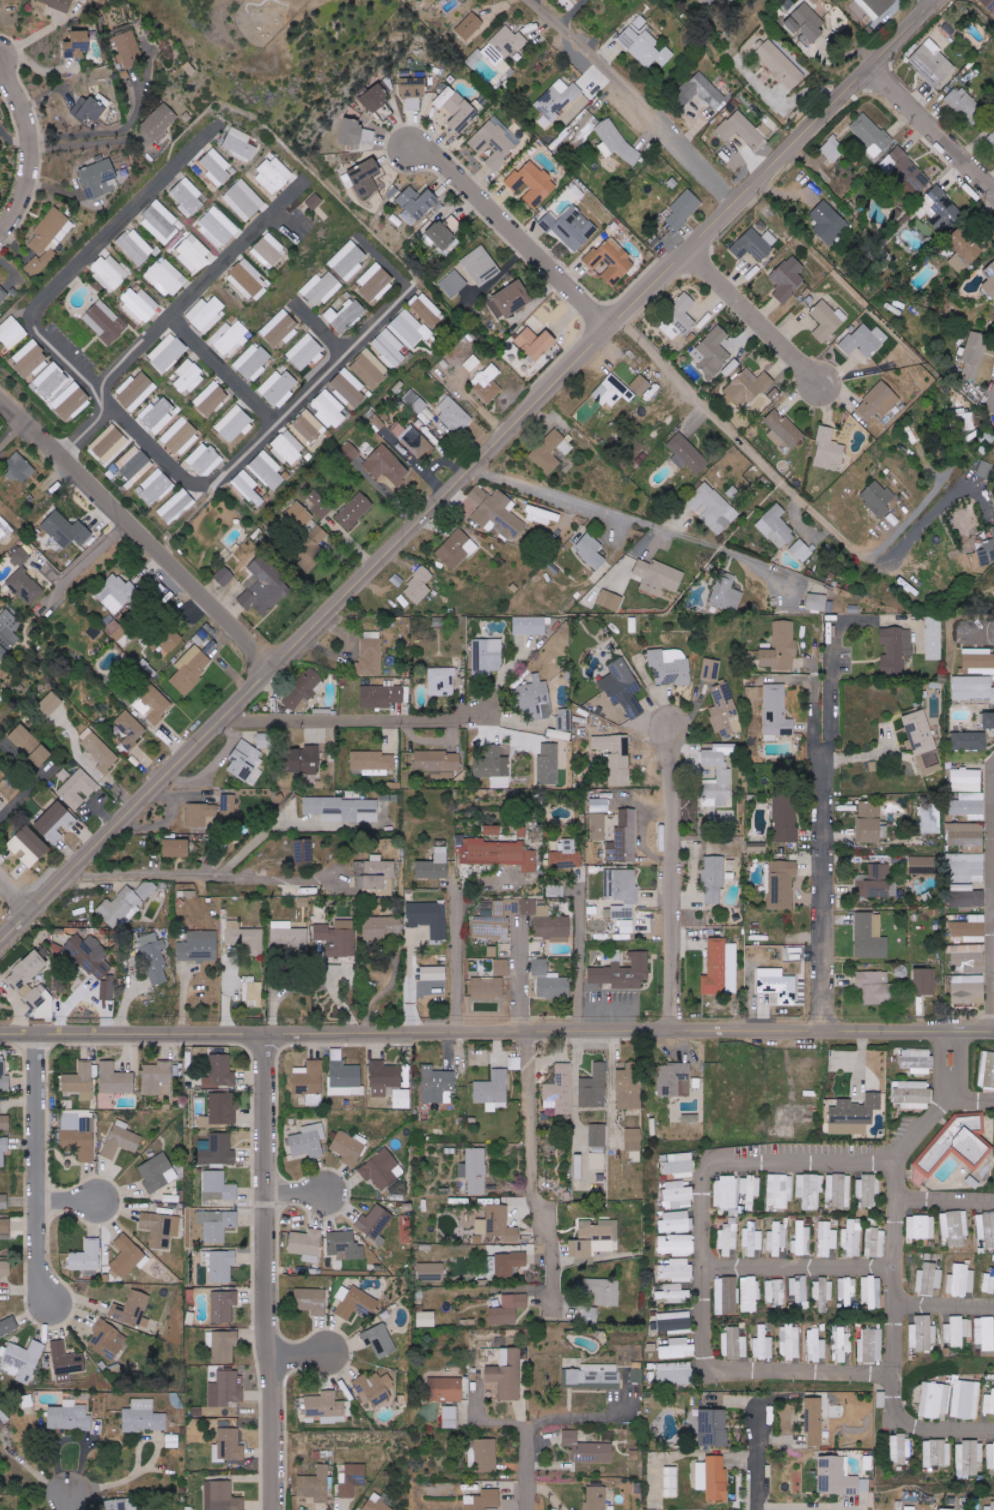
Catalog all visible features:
building: (462, 0)
building: (577, 0)
building: (709, 2)
building: (59, 4)
building: (989, 4)
building: (875, 7)
building: (807, 21)
building: (469, 25)
building: (530, 30)
building: (644, 43)
building: (78, 44)
building: (505, 45)
building: (128, 48)
building: (778, 62)
building: (932, 63)
building: (189, 68)
building: (703, 91)
building: (414, 92)
building: (375, 97)
building: (557, 100)
road: (632, 100)
building: (963, 103)
building: (89, 108)
building: (462, 111)
building: (160, 121)
road: (931, 127)
building: (738, 128)
building: (357, 132)
building: (872, 135)
road: (100, 136)
building: (615, 140)
building: (991, 140)
building: (495, 142)
building: (240, 144)
building: (833, 149)
road: (31, 152)
building: (215, 167)
building: (909, 171)
building: (273, 175)
building: (366, 178)
building: (100, 179)
building: (533, 184)
building: (187, 197)
building: (243, 200)
building: (315, 201)
building: (417, 204)
building: (684, 209)
building: (939, 210)
building: (160, 222)
building: (828, 223)
building: (217, 227)
building: (571, 227)
building: (444, 232)
road: (513, 233)
building: (48, 239)
building: (755, 245)
building: (135, 247)
building: (268, 250)
building: (193, 253)
building: (965, 253)
building: (348, 260)
building: (612, 261)
building: (481, 265)
building: (110, 272)
building: (165, 277)
building: (788, 279)
building: (248, 280)
building: (990, 280)
building: (375, 282)
building: (453, 283)
building: (766, 284)
road: (204, 287)
building: (320, 289)
building: (3, 295)
building: (511, 300)
building: (138, 304)
building: (427, 310)
building: (0, 314)
building: (205, 314)
building: (345, 315)
road: (753, 317)
building: (679, 320)
building: (828, 320)
building: (105, 322)
building: (280, 328)
building: (408, 329)
building: (12, 332)
road: (323, 332)
building: (230, 338)
building: (864, 340)
building: (535, 343)
building: (388, 348)
building: (168, 352)
building: (305, 352)
building: (713, 352)
building: (975, 353)
building: (31, 359)
building: (252, 362)
building: (471, 363)
building: (369, 369)
road: (223, 375)
building: (187, 377)
building: (52, 381)
building: (488, 384)
building: (641, 385)
building: (278, 388)
building: (348, 388)
building: (748, 388)
building: (135, 390)
building: (613, 391)
building: (211, 398)
building: (415, 401)
building: (72, 402)
building: (878, 402)
building: (328, 409)
road: (126, 414)
building: (157, 415)
building: (454, 415)
building: (234, 424)
building: (969, 424)
building: (307, 427)
building: (783, 430)
road: (84, 435)
road: (6, 436)
building: (180, 436)
building: (416, 442)
building: (110, 443)
building: (287, 448)
building: (829, 449)
building: (551, 452)
building: (687, 455)
building: (204, 459)
building: (134, 464)
building: (387, 465)
building: (19, 469)
building: (985, 469)
building: (267, 470)
road: (468, 475)
building: (154, 487)
building: (247, 488)
road: (783, 490)
building: (877, 499)
building: (319, 504)
building: (175, 506)
building: (714, 508)
building: (354, 511)
building: (497, 513)
building: (299, 515)
road: (632, 519)
building: (777, 527)
building: (4, 528)
building: (67, 530)
road: (133, 548)
building: (311, 550)
building: (457, 550)
building: (591, 551)
building: (802, 551)
building: (987, 552)
building: (21, 557)
road: (67, 570)
building: (224, 576)
building: (659, 577)
building: (419, 584)
building: (26, 586)
building: (264, 587)
building: (117, 593)
building: (727, 594)
building: (610, 600)
building: (817, 602)
building: (530, 625)
building: (628, 626)
building: (7, 632)
building: (116, 634)
building: (933, 638)
building: (168, 643)
building: (781, 647)
building: (896, 650)
building: (488, 656)
building: (371, 657)
building: (978, 661)
building: (670, 666)
building: (191, 668)
building: (712, 669)
building: (618, 681)
building: (442, 682)
building: (973, 688)
building: (304, 691)
building: (381, 696)
building: (536, 698)
building: (51, 704)
building: (158, 706)
building: (777, 712)
building: (725, 713)
building: (989, 721)
road: (355, 722)
building: (562, 726)
building: (129, 730)
building: (265, 740)
building: (922, 741)
building: (970, 741)
building: (31, 745)
building: (100, 752)
building: (616, 757)
building: (307, 760)
building: (246, 763)
building: (372, 763)
building: (438, 763)
building: (494, 766)
building: (63, 774)
building: (718, 777)
building: (966, 780)
building: (77, 788)
building: (2, 802)
building: (228, 804)
building: (600, 805)
building: (343, 809)
building: (202, 815)
building: (786, 818)
road: (826, 819)
building: (930, 819)
building: (55, 822)
building: (869, 822)
building: (597, 826)
building: (494, 830)
road: (261, 835)
building: (967, 837)
building: (624, 838)
building: (28, 847)
building: (176, 847)
building: (303, 852)
building: (499, 854)
building: (567, 857)
building: (923, 865)
building: (437, 866)
building: (969, 867)
road: (194, 873)
building: (377, 875)
road: (675, 878)
building: (713, 880)
building: (874, 882)
building: (781, 884)
building: (621, 885)
building: (146, 890)
building: (556, 891)
road: (990, 891)
building: (971, 898)
road: (15, 902)
building: (304, 902)
building: (120, 907)
building: (623, 911)
building: (430, 918)
building: (550, 923)
building: (627, 926)
building: (383, 928)
building: (492, 928)
building: (971, 929)
building: (244, 937)
road: (457, 937)
building: (870, 937)
building: (291, 938)
building: (338, 938)
building: (199, 947)
building: (794, 953)
road: (577, 957)
building: (970, 957)
building: (154, 958)
building: (93, 962)
building: (719, 966)
building: (501, 967)
building: (624, 973)
road: (516, 977)
road: (409, 981)
building: (550, 981)
building: (923, 982)
building: (778, 984)
building: (21, 986)
building: (487, 986)
building: (876, 988)
building: (968, 989)
building: (252, 992)
road: (496, 1028)
building: (336, 1054)
building: (917, 1060)
building: (986, 1070)
building: (220, 1071)
building: (4, 1076)
building: (157, 1078)
building: (346, 1078)
building: (115, 1079)
building: (310, 1079)
building: (677, 1080)
building: (80, 1081)
building: (393, 1082)
building: (439, 1084)
building: (629, 1086)
building: (594, 1087)
building: (560, 1088)
building: (493, 1090)
building: (913, 1094)
road: (972, 1107)
building: (221, 1110)
building: (854, 1115)
building: (5, 1122)
building: (598, 1135)
building: (77, 1136)
building: (121, 1140)
building: (309, 1141)
building: (633, 1143)
building: (952, 1146)
building: (349, 1147)
building: (3, 1150)
building: (219, 1150)
building: (597, 1160)
building: (679, 1164)
building: (578, 1166)
road: (33, 1168)
building: (383, 1169)
road: (532, 1169)
building: (475, 1170)
building: (157, 1172)
building: (218, 1186)
building: (867, 1189)
building: (749, 1190)
building: (808, 1190)
building: (838, 1190)
building: (778, 1191)
building: (725, 1192)
building: (679, 1194)
road: (299, 1196)
building: (4, 1200)
road: (65, 1202)
road: (946, 1206)
building: (675, 1221)
building: (376, 1223)
building: (217, 1224)
building: (497, 1224)
building: (5, 1226)
building: (920, 1227)
building: (161, 1228)
building: (986, 1228)
building: (727, 1237)
building: (751, 1238)
building: (777, 1238)
building: (802, 1239)
building: (825, 1239)
building: (851, 1239)
building: (593, 1240)
building: (875, 1242)
building: (307, 1244)
building: (345, 1244)
building: (676, 1244)
building: (87, 1256)
building: (126, 1257)
road: (899, 1263)
building: (221, 1264)
building: (509, 1264)
road: (709, 1267)
building: (5, 1269)
road: (269, 1269)
building: (677, 1270)
building: (431, 1271)
road: (804, 1272)
building: (928, 1278)
building: (960, 1280)
building: (988, 1282)
building: (798, 1290)
building: (846, 1291)
building: (672, 1292)
building: (774, 1292)
building: (870, 1292)
building: (822, 1293)
building: (749, 1294)
building: (725, 1295)
building: (311, 1300)
building: (355, 1302)
building: (223, 1305)
building: (132, 1309)
building: (509, 1309)
road: (945, 1311)
building: (589, 1315)
building: (426, 1318)
building: (675, 1321)
building: (8, 1325)
building: (956, 1332)
building: (922, 1333)
building: (984, 1333)
building: (107, 1340)
building: (380, 1340)
building: (789, 1341)
building: (842, 1343)
building: (733, 1344)
building: (762, 1344)
building: (225, 1345)
building: (815, 1345)
building: (871, 1345)
building: (677, 1349)
road: (302, 1358)
building: (23, 1361)
building: (66, 1362)
building: (636, 1372)
building: (676, 1373)
building: (507, 1374)
building: (594, 1375)
building: (226, 1388)
building: (445, 1389)
building: (373, 1390)
building: (934, 1399)
building: (965, 1399)
building: (989, 1403)
road: (583, 1415)
building: (69, 1416)
building: (143, 1416)
building: (449, 1416)
building: (814, 1420)
building: (713, 1427)
building: (693, 1428)
building: (230, 1444)
building: (586, 1447)
building: (899, 1449)
building: (0, 1452)
building: (936, 1453)
building: (483, 1455)
building: (990, 1456)
road: (759, 1464)
road: (144, 1467)
road: (527, 1472)
building: (712, 1477)
building: (839, 1477)
building: (354, 1480)
building: (670, 1481)
building: (316, 1485)
building: (222, 1496)
building: (912, 1496)
building: (596, 1498)
building: (483, 1500)
road: (68, 1503)
building: (377, 1504)
building: (117, 1505)
building: (992, 1505)
road: (809, 1507)
building: (910, 1508)
building: (949, 1509)

